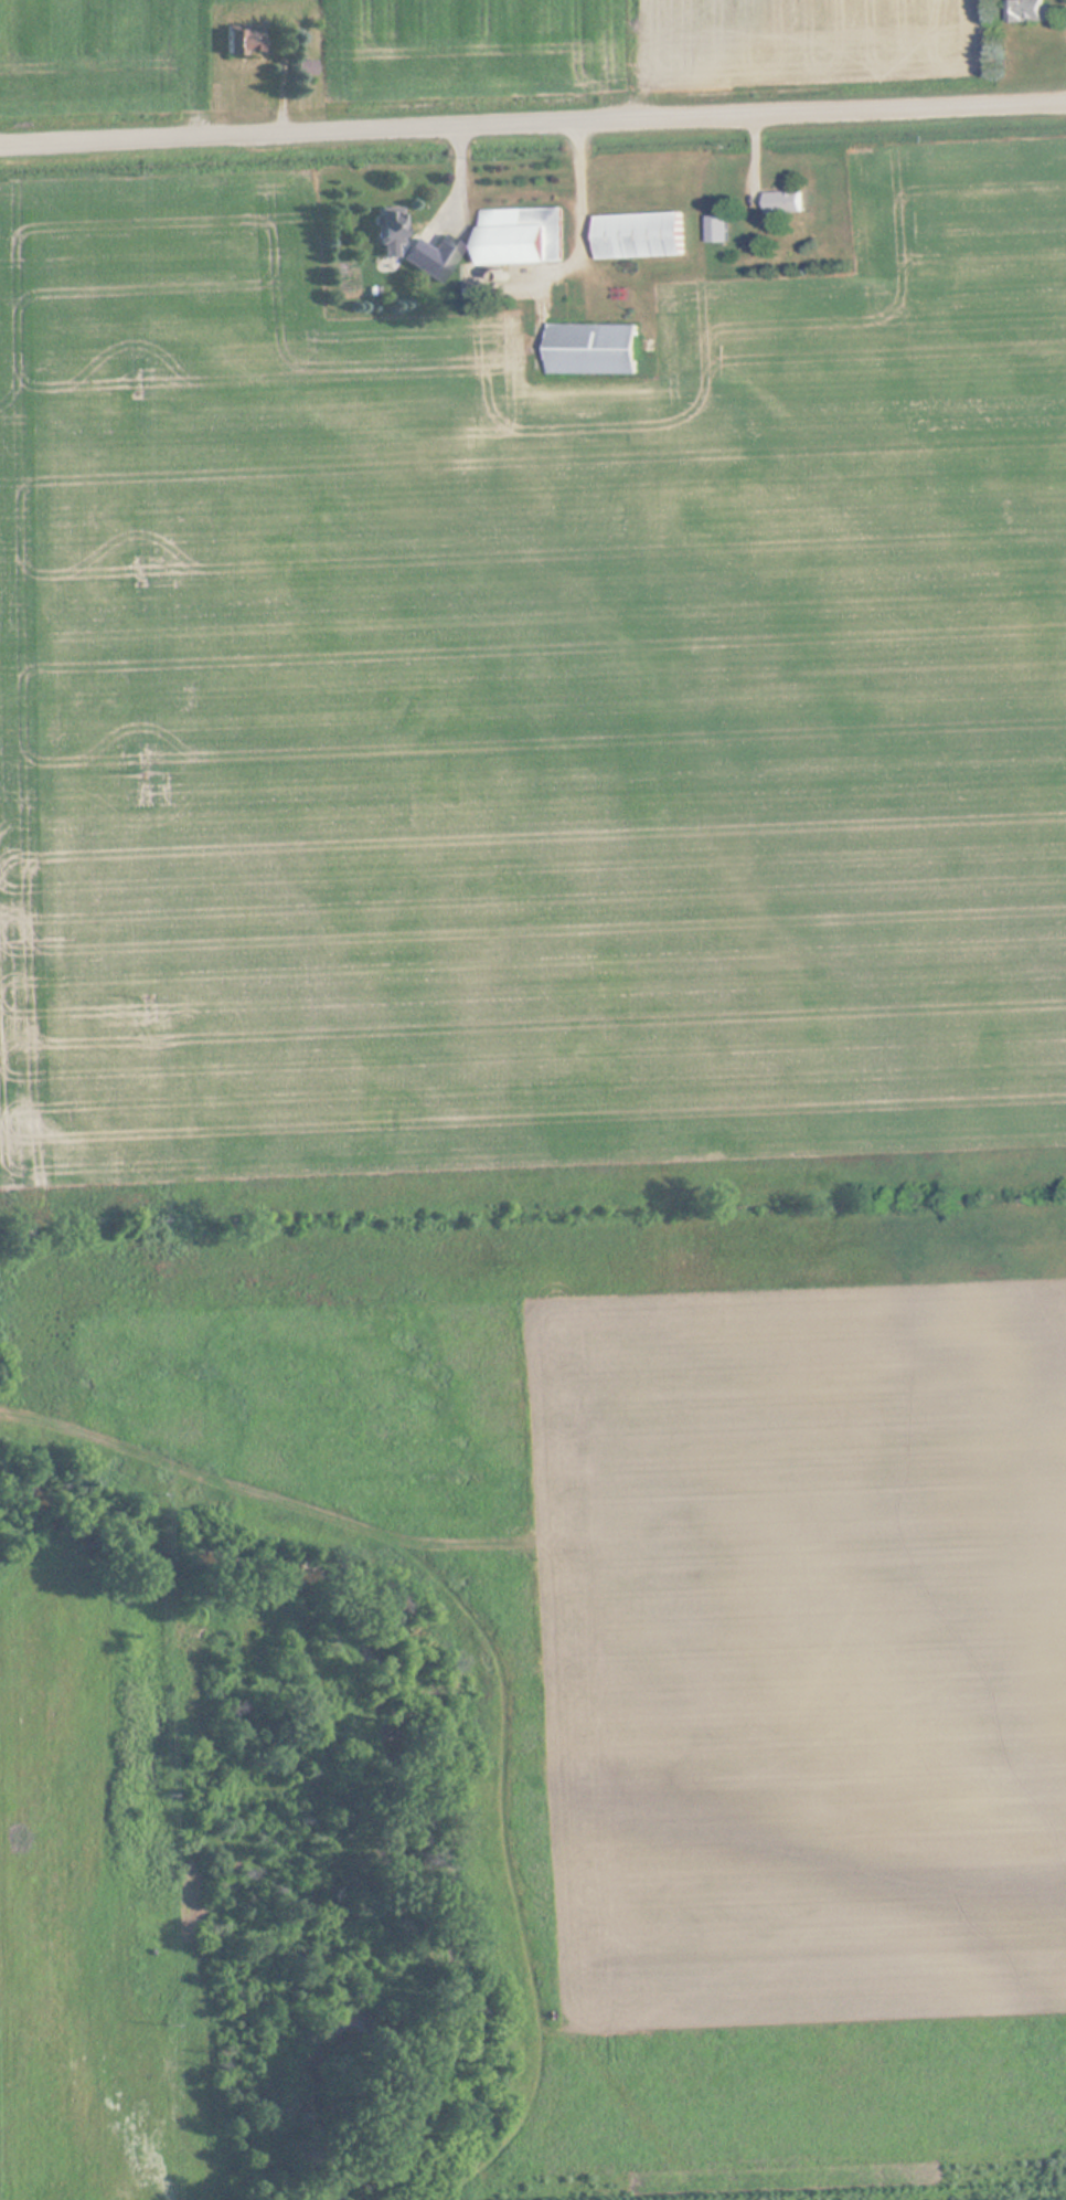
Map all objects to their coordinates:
building: (1034, 11)
building: (243, 41)
building: (306, 68)
road: (533, 127)
building: (786, 202)
building: (390, 226)
building: (719, 229)
building: (527, 234)
building: (644, 235)
building: (430, 256)
building: (596, 349)
river: (394, 1757)

